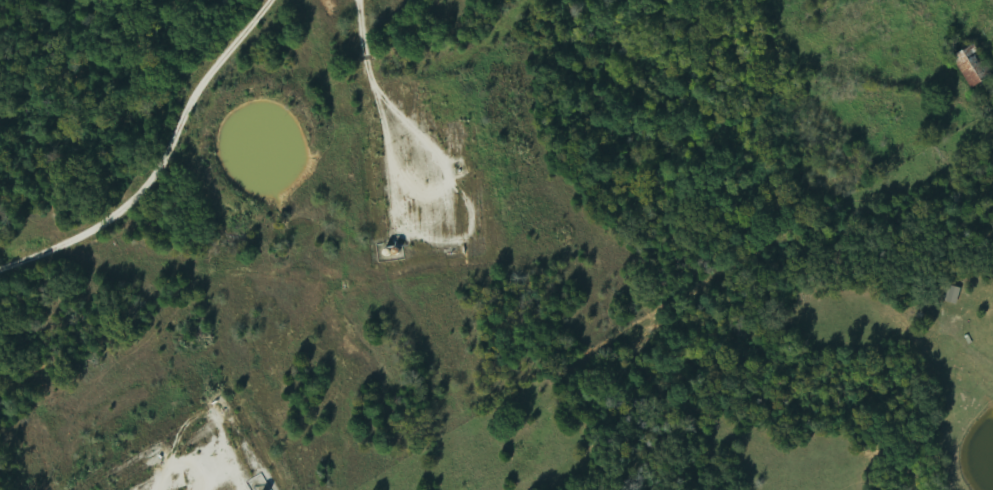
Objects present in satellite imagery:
building: (977, 68)
building: (954, 294)

